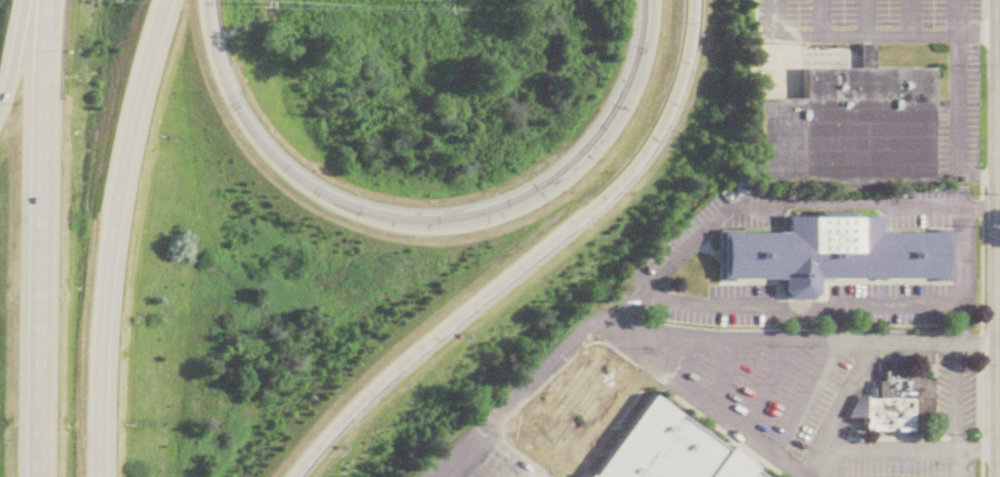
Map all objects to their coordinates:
road: (5, 31)
road: (850, 31)
road: (978, 33)
park: (773, 69)
road: (622, 100)
road: (955, 108)
parking lot: (962, 110)
building: (844, 132)
road: (323, 197)
road: (775, 205)
road: (102, 235)
road: (30, 238)
building: (829, 255)
road: (523, 259)
road: (962, 277)
road: (804, 307)
road: (980, 325)
road: (836, 339)
road: (646, 364)
road: (725, 370)
road: (766, 382)
road: (518, 393)
road: (805, 394)
road: (841, 397)
parking lot: (748, 403)
building: (897, 404)
road: (560, 408)
road: (955, 410)
road: (756, 437)
building: (662, 450)
road: (807, 473)

